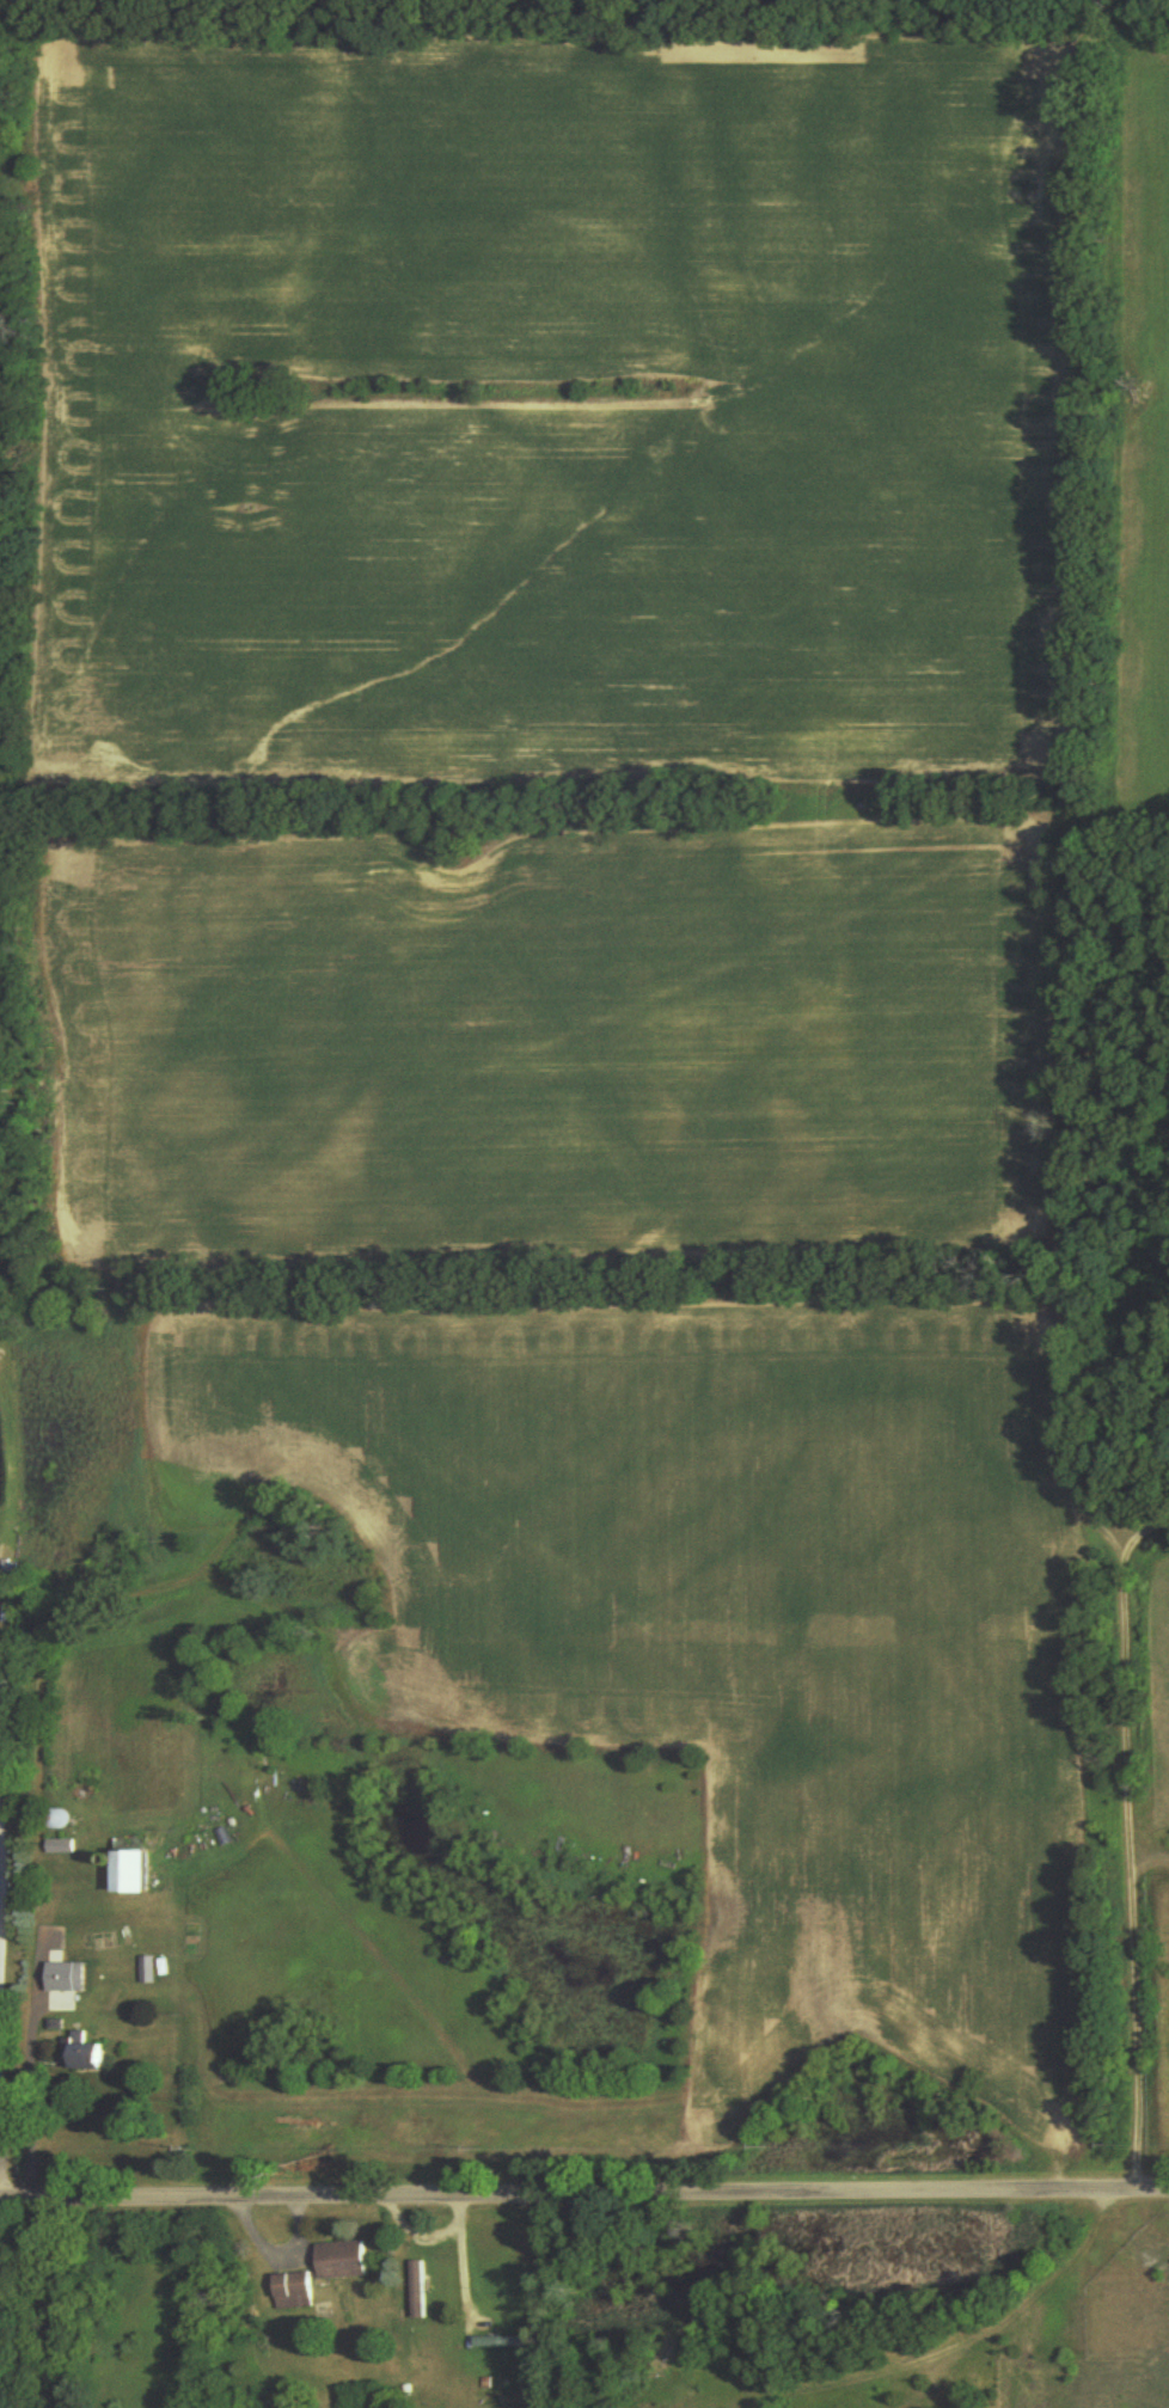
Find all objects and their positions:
road: (918, 20)
road: (643, 36)
road: (1087, 1125)
road: (1149, 1538)
building: (6, 1614)
road: (1155, 1864)
building: (123, 1870)
road: (1, 2040)
building: (78, 2053)
road: (584, 2199)
building: (338, 2261)
building: (415, 2290)
building: (290, 2292)
building: (496, 2342)

